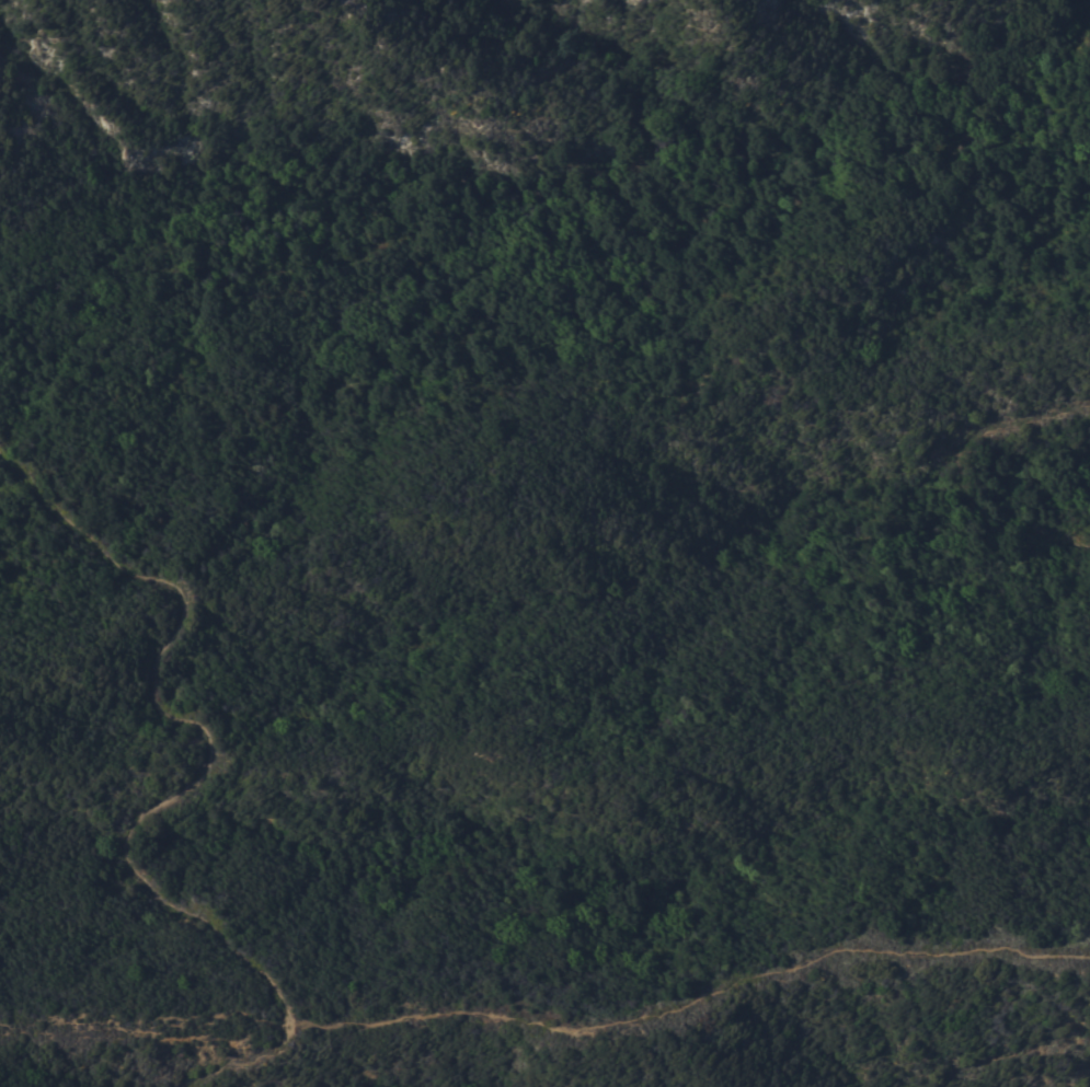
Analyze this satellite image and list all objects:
road: (197, 775)
road: (690, 1004)

